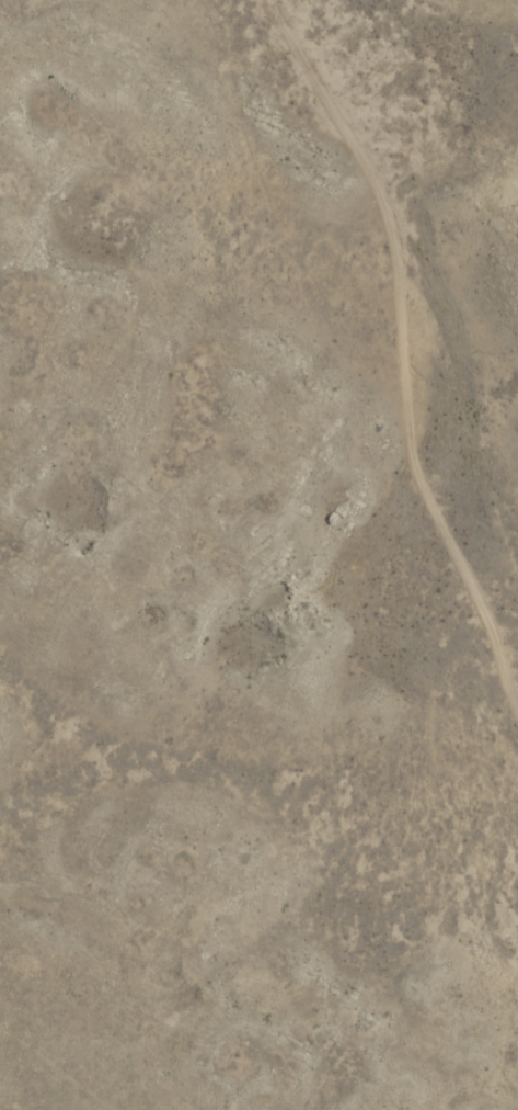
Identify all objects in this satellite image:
road: (396, 349)

